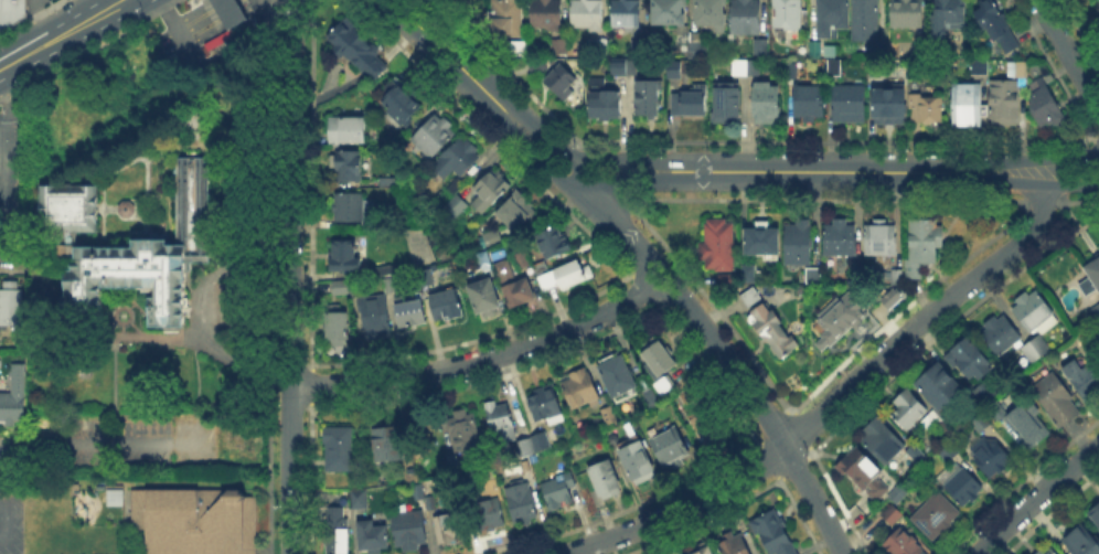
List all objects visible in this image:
road: (223, 4)
building: (670, 11)
building: (1098, 12)
building: (627, 13)
building: (712, 13)
building: (907, 13)
building: (951, 13)
building: (547, 14)
building: (790, 14)
building: (13, 15)
road: (285, 15)
road: (294, 15)
building: (586, 15)
road: (169, 17)
building: (746, 17)
building: (829, 17)
road: (200, 19)
building: (228, 19)
building: (506, 20)
building: (867, 20)
building: (997, 26)
road: (63, 34)
building: (701, 45)
building: (637, 46)
building: (812, 46)
building: (562, 47)
road: (441, 49)
building: (358, 50)
building: (520, 51)
road: (1068, 53)
building: (751, 62)
building: (621, 65)
building: (540, 66)
building: (981, 67)
building: (633, 70)
building: (834, 70)
building: (873, 70)
building: (1023, 71)
building: (675, 74)
building: (562, 83)
building: (650, 99)
building: (604, 100)
building: (809, 100)
building: (1047, 100)
building: (692, 103)
building: (768, 103)
building: (1005, 103)
building: (404, 104)
building: (728, 105)
building: (968, 105)
building: (851, 106)
building: (889, 106)
building: (929, 110)
building: (808, 120)
road: (538, 128)
building: (350, 131)
building: (436, 136)
road: (532, 153)
road: (548, 153)
road: (615, 157)
building: (457, 158)
road: (1069, 158)
road: (1000, 160)
building: (349, 168)
road: (605, 169)
road: (820, 171)
road: (584, 181)
road: (631, 182)
road: (1001, 182)
building: (390, 183)
road: (1069, 185)
building: (492, 189)
building: (65, 206)
building: (122, 206)
building: (350, 206)
building: (454, 209)
building: (520, 212)
building: (882, 237)
building: (491, 238)
building: (764, 238)
building: (842, 238)
building: (800, 243)
building: (555, 244)
building: (721, 245)
building: (920, 245)
road: (12, 255)
building: (142, 256)
building: (346, 257)
building: (484, 260)
building: (523, 262)
building: (388, 271)
building: (749, 275)
building: (814, 275)
building: (566, 276)
building: (898, 278)
building: (427, 279)
building: (729, 280)
building: (1092, 280)
building: (391, 284)
building: (515, 286)
building: (344, 290)
road: (290, 291)
building: (484, 295)
building: (884, 296)
building: (753, 298)
building: (11, 300)
building: (448, 307)
building: (1093, 309)
building: (1033, 311)
building: (413, 315)
building: (377, 317)
building: (843, 319)
building: (338, 323)
building: (773, 331)
building: (1001, 335)
building: (1035, 351)
road: (483, 359)
building: (970, 360)
building: (660, 362)
road: (730, 362)
building: (618, 376)
building: (1085, 379)
building: (941, 388)
building: (579, 390)
building: (985, 393)
building: (14, 398)
building: (654, 398)
building: (1056, 399)
road: (832, 402)
building: (546, 403)
building: (909, 412)
building: (608, 415)
building: (928, 418)
building: (700, 420)
building: (937, 423)
building: (502, 424)
building: (980, 424)
building: (1026, 426)
building: (467, 430)
building: (392, 440)
building: (883, 441)
road: (182, 445)
building: (534, 447)
building: (671, 447)
building: (951, 449)
road: (7, 450)
building: (341, 450)
building: (915, 451)
building: (990, 457)
building: (637, 458)
building: (865, 475)
building: (606, 480)
building: (962, 484)
building: (418, 491)
building: (561, 492)
building: (113, 496)
building: (899, 496)
road: (1033, 496)
building: (358, 499)
building: (523, 504)
road: (2, 513)
building: (893, 513)
parking lot: (12, 514)
building: (1096, 514)
building: (491, 516)
building: (937, 516)
building: (194, 521)
building: (448, 529)
building: (338, 532)
building: (410, 532)
building: (781, 533)
building: (374, 539)
building: (1084, 542)
building: (903, 544)
building: (736, 545)
building: (704, 550)
building: (1053, 551)

